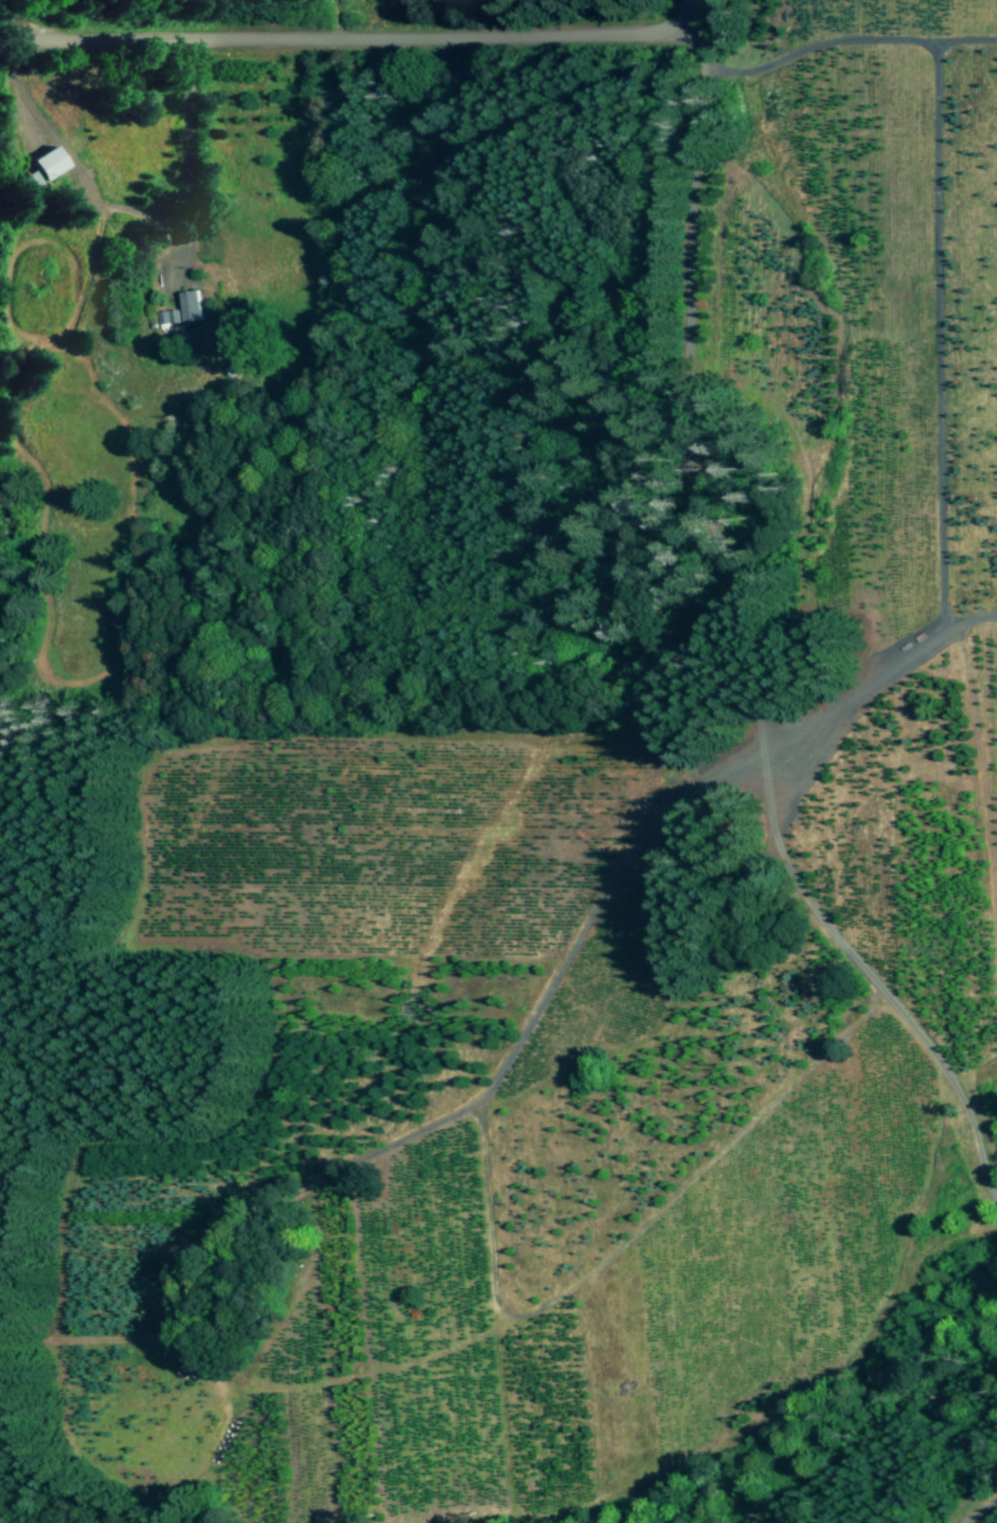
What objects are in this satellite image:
road: (350, 35)
road: (847, 38)
building: (51, 161)
road: (142, 249)
building: (192, 304)
road: (940, 334)
road: (745, 630)
road: (875, 676)
road: (979, 1511)

